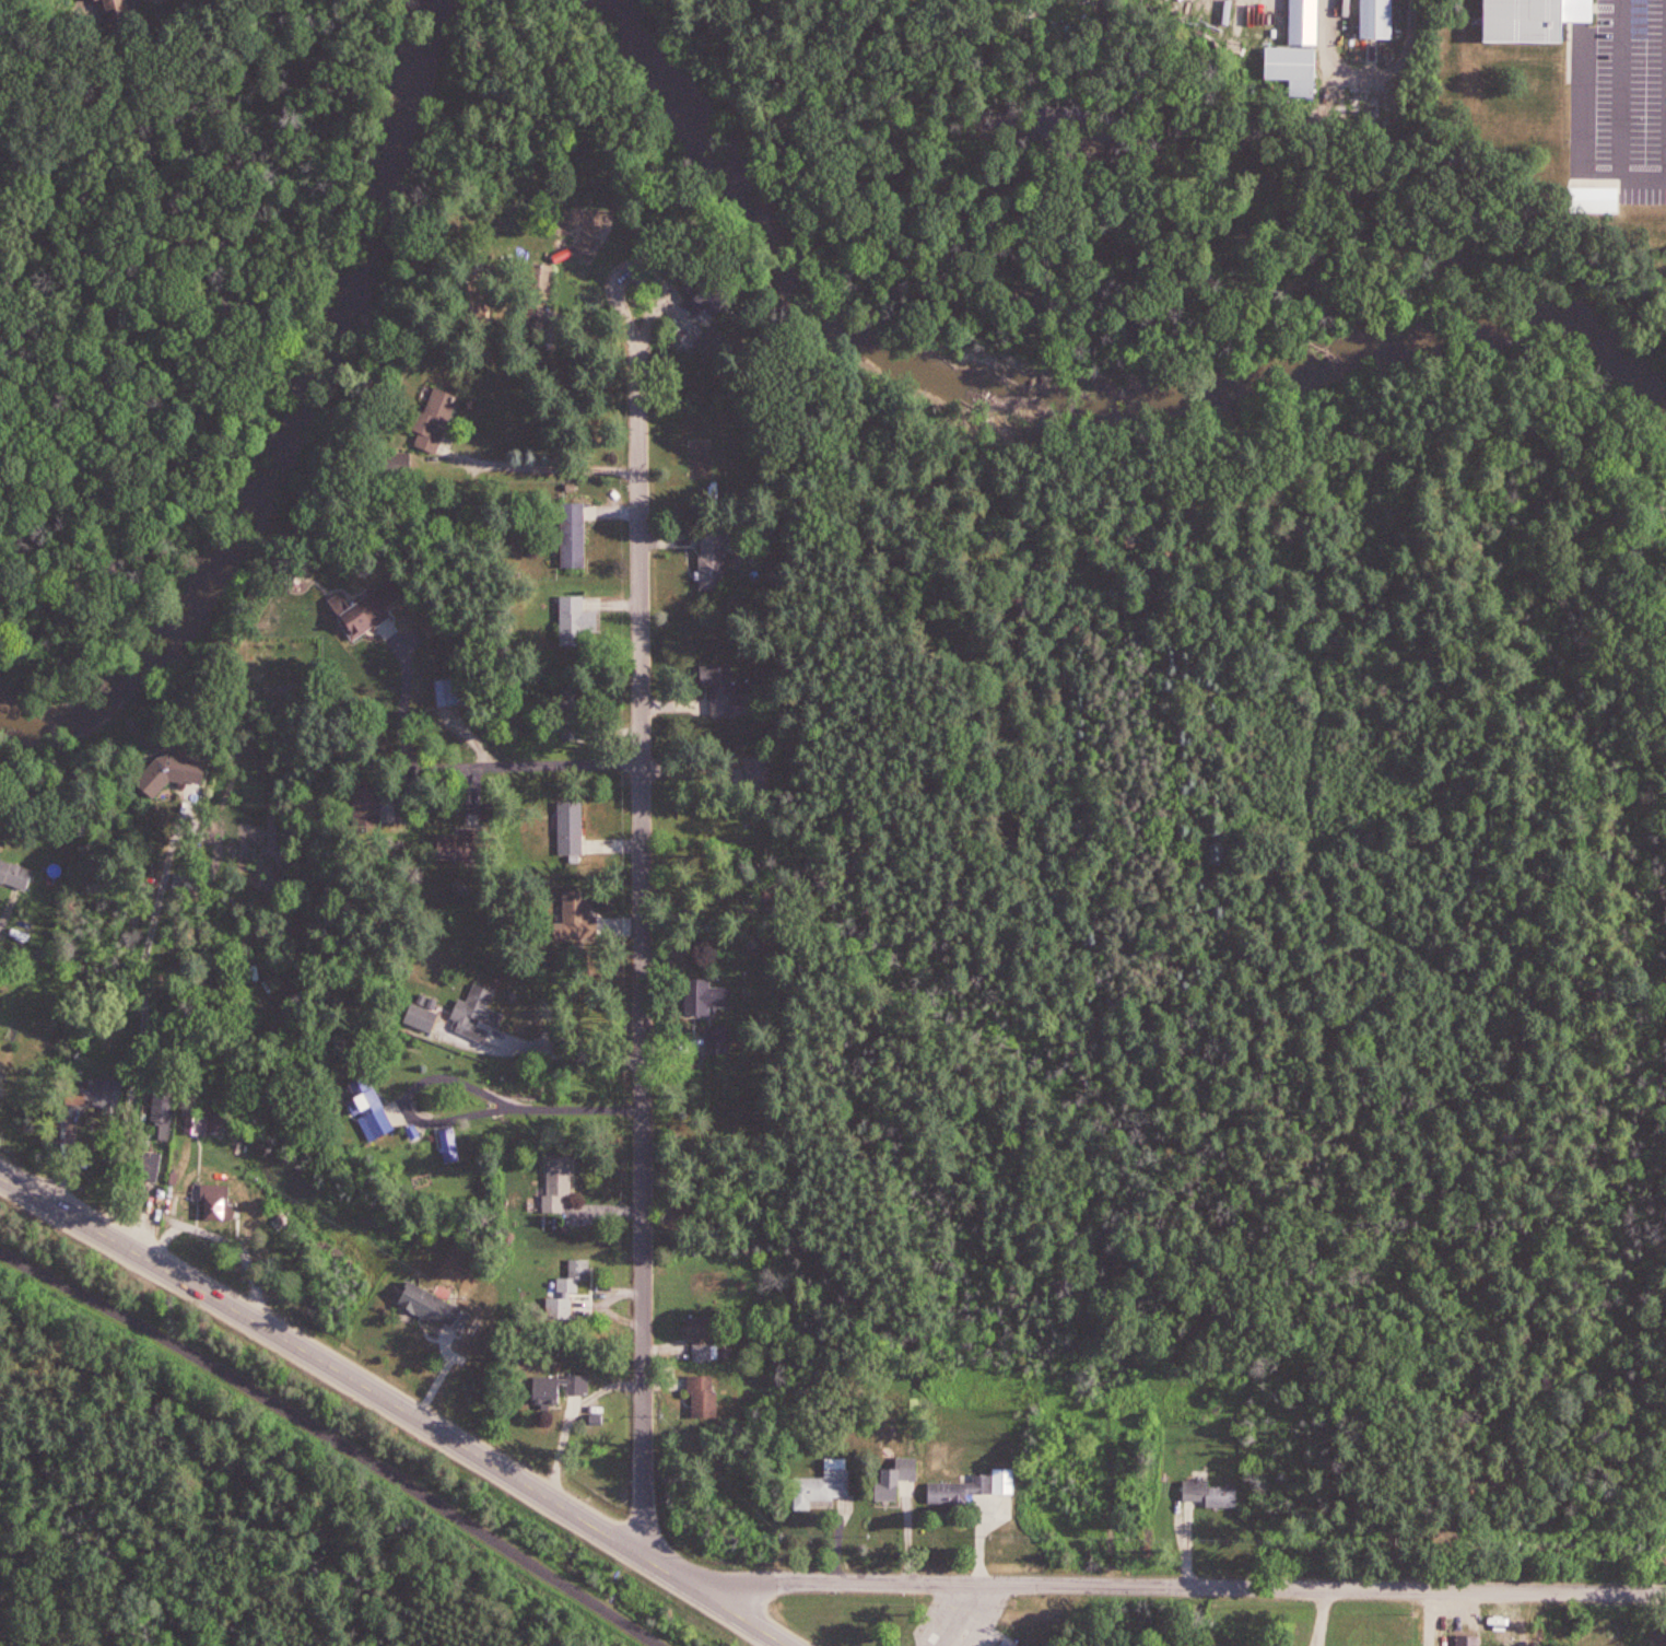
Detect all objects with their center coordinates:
building: (109, 17)
building: (1375, 17)
building: (1532, 19)
building: (1292, 67)
road: (1619, 110)
building: (1665, 279)
building: (712, 303)
building: (717, 349)
river: (1082, 387)
building: (437, 416)
river: (295, 422)
road: (542, 465)
building: (400, 469)
building: (573, 536)
building: (715, 561)
building: (360, 614)
building: (576, 614)
building: (450, 688)
building: (727, 689)
road: (402, 702)
building: (571, 712)
road: (523, 767)
building: (758, 769)
building: (169, 772)
building: (374, 808)
building: (571, 829)
building: (459, 844)
building: (13, 875)
building: (184, 883)
road: (645, 913)
road: (7, 914)
building: (572, 915)
building: (706, 1000)
building: (473, 1009)
building: (420, 1020)
road: (144, 1026)
building: (718, 1040)
building: (0, 1055)
road: (568, 1055)
building: (92, 1093)
building: (371, 1105)
building: (165, 1111)
building: (193, 1130)
building: (150, 1165)
building: (555, 1188)
building: (214, 1199)
building: (576, 1277)
building: (433, 1306)
building: (701, 1324)
building: (705, 1351)
road: (375, 1353)
building: (555, 1388)
building: (703, 1397)
road: (397, 1406)
road: (339, 1435)
building: (896, 1482)
building: (976, 1489)
building: (826, 1491)
building: (1212, 1494)
road: (1168, 1586)
road: (1658, 1594)
park: (290, 1602)
road: (771, 1639)
building: (1468, 1639)
building: (1006, 1642)

